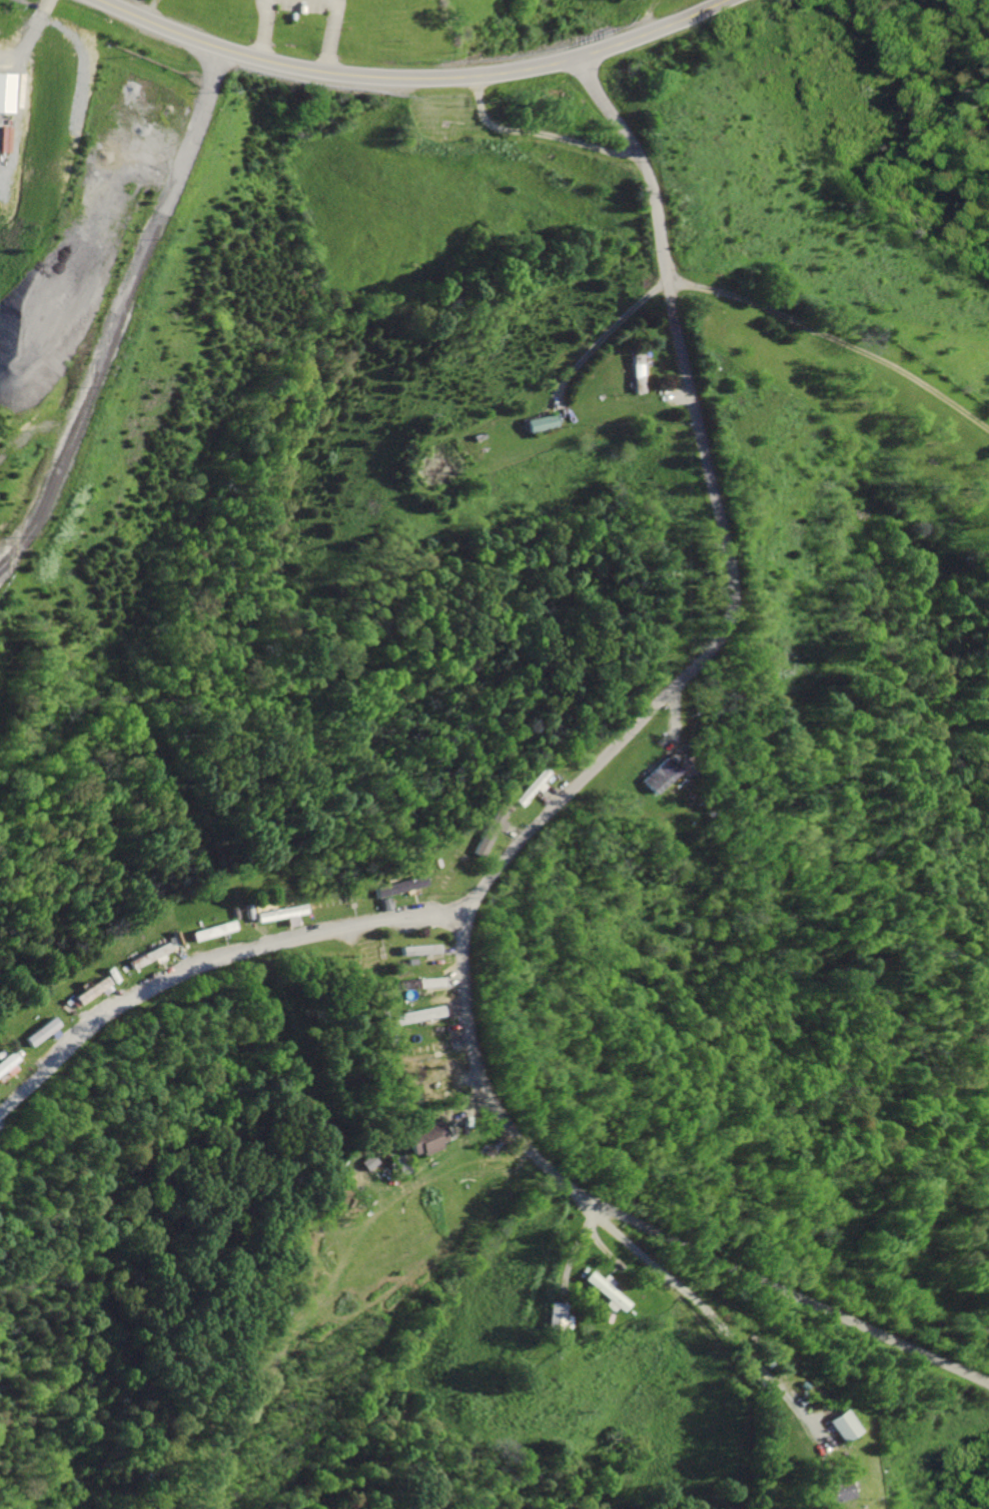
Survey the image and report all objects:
road: (266, 30)
road: (329, 36)
road: (413, 79)
building: (8, 92)
road: (535, 133)
road: (113, 302)
road: (833, 343)
building: (634, 377)
building: (539, 424)
road: (659, 696)
building: (651, 776)
building: (526, 789)
building: (485, 832)
building: (394, 887)
building: (278, 915)
building: (210, 932)
building: (414, 951)
building: (148, 957)
road: (210, 957)
building: (422, 984)
building: (399, 985)
building: (88, 993)
building: (411, 1016)
building: (37, 1033)
building: (4, 1064)
building: (418, 1138)
building: (602, 1292)
road: (811, 1309)
road: (698, 1311)
building: (554, 1315)
building: (833, 1425)
building: (825, 1492)

